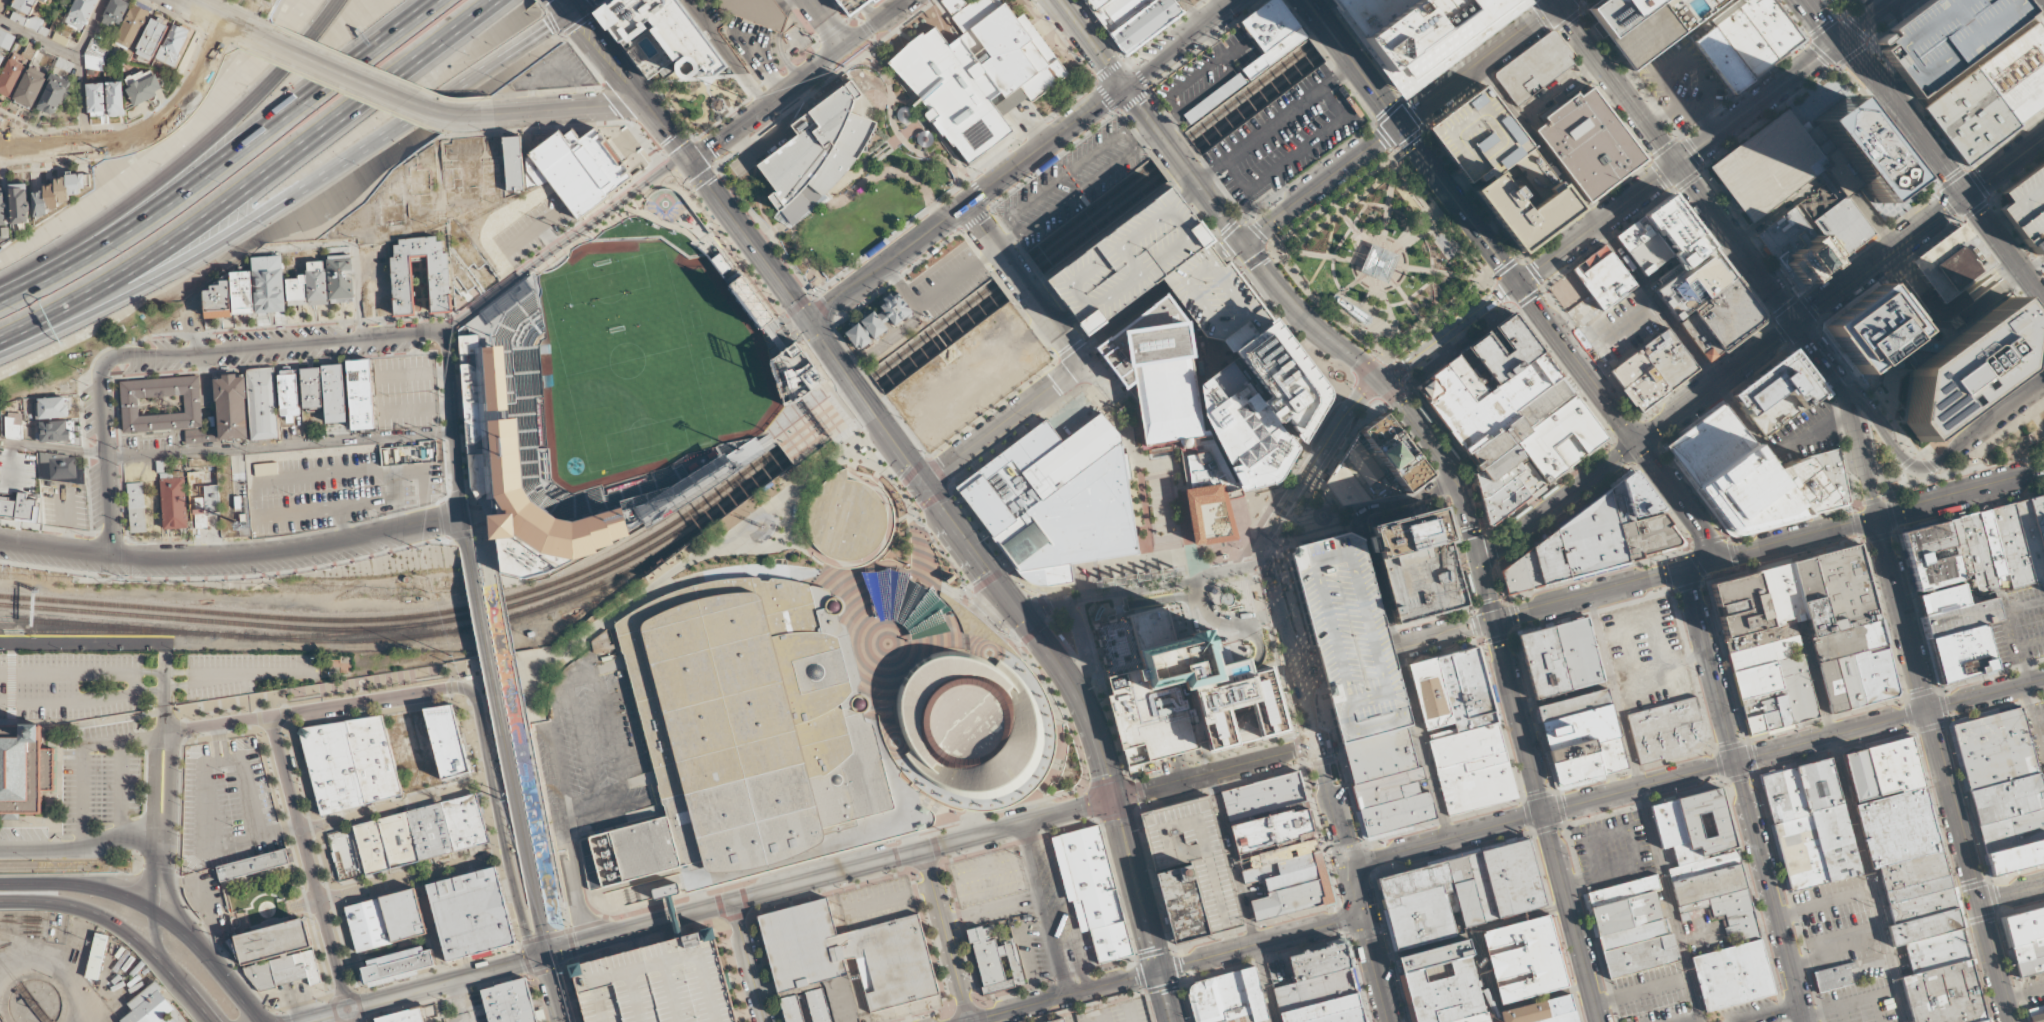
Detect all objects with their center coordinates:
building: (43, 0)
building: (873, 1)
parking lot: (1832, 1)
parking lot: (1847, 1)
building: (860, 2)
building: (25, 5)
road: (568, 5)
road: (579, 5)
building: (1692, 10)
traffic signals: (572, 11)
building: (115, 12)
building: (759, 12)
building: (80, 13)
road: (214, 15)
building: (1132, 19)
building: (27, 21)
road: (827, 23)
building: (132, 27)
building: (1637, 27)
building: (1421, 30)
railway: (1200, 34)
road: (39, 37)
building: (655, 37)
building: (1947, 37)
building: (6, 38)
building: (152, 39)
traffic signals: (1842, 41)
road: (1089, 42)
road: (1178, 43)
building: (173, 45)
building: (29, 51)
road: (726, 53)
building: (95, 55)
railway: (1094, 56)
building: (1, 57)
building: (1722, 60)
road: (1353, 61)
road: (1483, 61)
building: (1263, 62)
building: (1536, 67)
road: (80, 70)
building: (977, 71)
building: (11, 73)
building: (2019, 73)
road: (356, 77)
road: (799, 81)
building: (30, 85)
road: (459, 85)
building: (143, 86)
road: (631, 86)
building: (53, 95)
building: (95, 97)
building: (115, 99)
road: (252, 99)
road: (556, 110)
road: (1144, 115)
building: (1971, 115)
road: (895, 131)
road: (143, 135)
parking lot: (1284, 139)
road: (12, 140)
building: (1590, 143)
road: (1927, 147)
building: (1858, 148)
building: (817, 152)
railway: (1922, 153)
road: (1176, 157)
road: (224, 159)
traffic signals: (690, 162)
road: (1675, 162)
building: (514, 163)
building: (1768, 165)
building: (1498, 167)
building: (577, 169)
road: (969, 180)
road: (254, 181)
railway: (1937, 181)
road: (1321, 182)
building: (1519, 182)
road: (1639, 190)
road: (979, 192)
building: (58, 193)
road: (963, 201)
building: (19, 204)
building: (2, 205)
road: (1213, 205)
park: (871, 207)
road: (990, 207)
building: (2024, 209)
parking garage: (2024, 209)
railway: (965, 216)
road: (974, 219)
road: (1923, 232)
road: (986, 233)
road: (955, 234)
road: (78, 237)
road: (564, 239)
road: (748, 239)
building: (1815, 240)
road: (1225, 244)
railway: (928, 256)
park: (1380, 256)
road: (180, 258)
building: (1686, 258)
fountain: (1442, 260)
road: (2033, 262)
building: (1379, 263)
road: (179, 267)
building: (1158, 270)
road: (1189, 270)
road: (1018, 275)
building: (1604, 277)
building: (341, 278)
road: (1518, 282)
building: (269, 283)
building: (317, 283)
building: (439, 283)
building: (296, 290)
road: (820, 290)
building: (243, 291)
building: (218, 300)
building: (895, 307)
road: (1336, 313)
building: (1729, 314)
road: (1303, 320)
road: (1120, 321)
building: (874, 324)
road: (1054, 325)
building: (1872, 329)
building: (857, 336)
building: (1699, 336)
road: (271, 347)
building: (1526, 349)
road: (828, 350)
road: (1821, 353)
park: (638, 365)
building: (1478, 370)
building: (1653, 370)
building: (792, 371)
railway: (889, 372)
building: (1284, 372)
building: (1960, 372)
building: (1466, 379)
stadium: (628, 380)
road: (1097, 382)
road: (1719, 382)
building: (311, 387)
building: (985, 387)
building: (1790, 387)
railway: (868, 389)
building: (1167, 389)
building: (502, 391)
parking lot: (406, 392)
building: (334, 393)
building: (289, 394)
building: (360, 394)
road: (859, 396)
building: (1483, 399)
building: (1545, 401)
building: (263, 403)
building: (130, 405)
building: (232, 406)
building: (54, 407)
road: (452, 421)
road: (1001, 422)
building: (14, 425)
building: (55, 430)
building: (1246, 430)
building: (201, 435)
railway: (819, 436)
building: (1561, 439)
park: (2019, 443)
building: (1708, 444)
road: (278, 446)
building: (1498, 447)
road: (1859, 452)
road: (104, 461)
railway: (757, 461)
road: (1313, 463)
road: (1444, 463)
road: (1937, 463)
building: (160, 465)
building: (1385, 465)
building: (60, 467)
building: (1832, 472)
traffic signals: (922, 482)
road: (1140, 486)
road: (925, 487)
building: (1807, 487)
building: (1507, 490)
building: (1749, 496)
building: (1635, 499)
building: (1056, 501)
road: (1682, 501)
building: (174, 502)
road: (1558, 502)
building: (137, 506)
building: (205, 506)
road: (1187, 507)
building: (19, 509)
building: (1210, 515)
building: (848, 519)
traffic signals: (1876, 520)
road: (463, 530)
building: (1408, 533)
building: (2033, 533)
building: (1653, 536)
building: (1595, 538)
building: (1992, 543)
road: (1769, 546)
building: (1959, 546)
building: (2012, 546)
building: (1976, 547)
road: (55, 550)
road: (287, 552)
building: (1931, 557)
building: (1553, 558)
traffic signals: (1273, 561)
traffic signals: (1479, 561)
traffic signals: (1697, 565)
building: (1523, 573)
building: (1423, 582)
road: (1146, 583)
road: (1486, 590)
building: (1942, 598)
railway: (52, 599)
building: (906, 603)
building: (1753, 603)
railway: (51, 607)
road: (1286, 616)
building: (1961, 618)
traffic signals: (1494, 620)
building: (1835, 623)
railway: (263, 624)
railway: (116, 626)
railway: (1048, 627)
parking lot: (2017, 627)
railway: (116, 632)
railway: (334, 633)
railway: (239, 635)
railway: (83, 636)
road: (484, 636)
road: (76, 643)
road: (1397, 645)
building: (1961, 655)
building: (1561, 658)
road: (242, 671)
traffic signals: (1300, 671)
road: (83, 672)
road: (1065, 672)
road: (10, 677)
road: (209, 679)
road: (135, 682)
railway: (1085, 684)
building: (1777, 685)
road: (166, 687)
building: (1467, 689)
building: (1430, 693)
building: (1189, 695)
road: (367, 699)
road: (83, 701)
road: (1309, 706)
parking lot: (2041, 715)
road: (216, 723)
building: (971, 726)
building: (746, 729)
building: (1669, 730)
building: (1582, 737)
building: (447, 742)
traffic signals: (1319, 742)
building: (1994, 748)
building: (375, 758)
building: (25, 766)
building: (334, 767)
building: (1472, 768)
road: (1216, 770)
road: (1943, 770)
road: (1697, 772)
building: (1888, 772)
building: (1388, 781)
road: (1744, 791)
traffic signals: (1113, 798)
building: (1263, 798)
building: (2006, 798)
parking lot: (227, 804)
road: (154, 817)
building: (468, 821)
road: (1547, 821)
road: (500, 823)
building: (1712, 823)
building: (1812, 824)
building: (1673, 825)
building: (432, 830)
building: (1272, 830)
building: (2011, 831)
road: (169, 832)
road: (560, 836)
building: (400, 839)
road: (522, 839)
road: (77, 847)
building: (358, 849)
building: (1197, 857)
parking lot: (1197, 857)
building: (1910, 857)
building: (2015, 857)
road: (887, 860)
road: (307, 861)
building: (254, 863)
railway: (44, 866)
traffic signals: (1351, 866)
road: (413, 878)
building: (1285, 878)
road: (1870, 878)
road: (1355, 882)
road: (77, 883)
building: (1011, 886)
building: (666, 890)
building: (1094, 891)
road: (2011, 894)
building: (1462, 895)
road: (1669, 898)
park: (264, 899)
building: (1724, 904)
building: (1186, 905)
road: (1142, 910)
building: (474, 913)
traffic signals: (1363, 913)
building: (406, 915)
building: (369, 924)
railway: (1167, 928)
road: (122, 929)
building: (1632, 929)
building: (1930, 929)
road: (663, 932)
road: (946, 936)
road: (155, 938)
road: (602, 938)
building: (2025, 940)
building: (275, 942)
building: (848, 953)
building: (1939, 953)
building: (96, 955)
traffic signals: (544, 955)
building: (996, 956)
road: (208, 959)
road: (748, 962)
building: (1320, 962)
building: (1529, 962)
building: (401, 964)
road: (1166, 967)
building: (286, 970)
traffic signals: (1158, 971)
building: (1838, 976)
railway: (34, 977)
road: (1487, 977)
building: (1736, 978)
road: (445, 982)
road: (677, 982)
building: (658, 984)
building: (1447, 985)
road: (552, 988)
railway: (23, 991)
building: (1950, 995)
building: (1230, 999)
building: (1321, 999)
building: (511, 1002)
parking lot: (1861, 1002)
railway: (4, 1004)
building: (818, 1005)
building: (152, 1007)
building: (791, 1008)
building: (1543, 1011)
building: (2034, 1014)
road: (322, 1015)
road: (348, 1015)
building: (405, 1016)
building: (1060, 1020)

